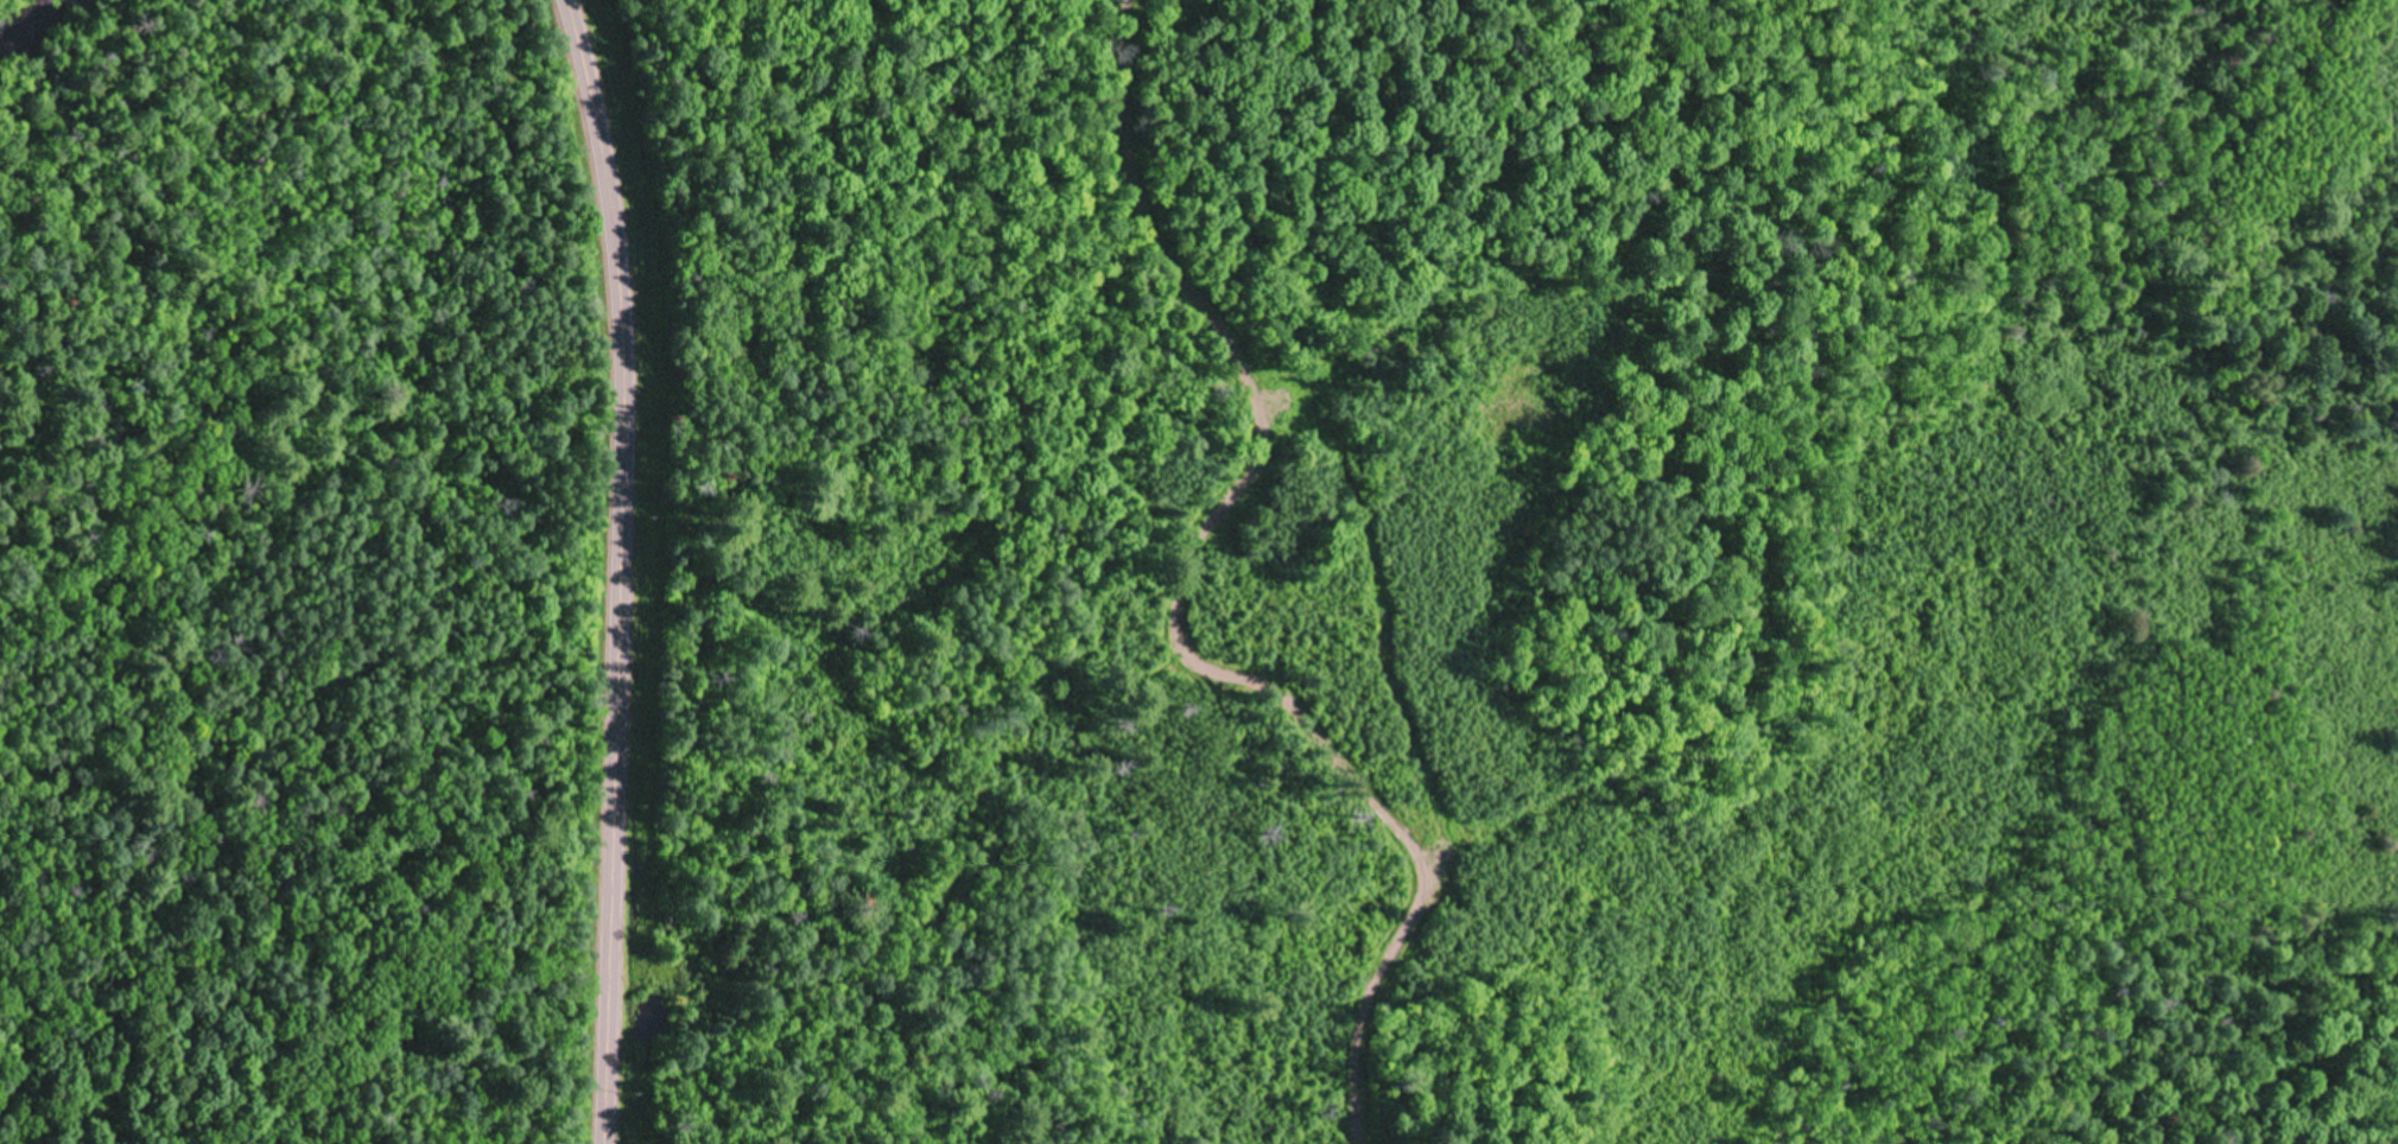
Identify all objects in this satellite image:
road: (617, 568)

